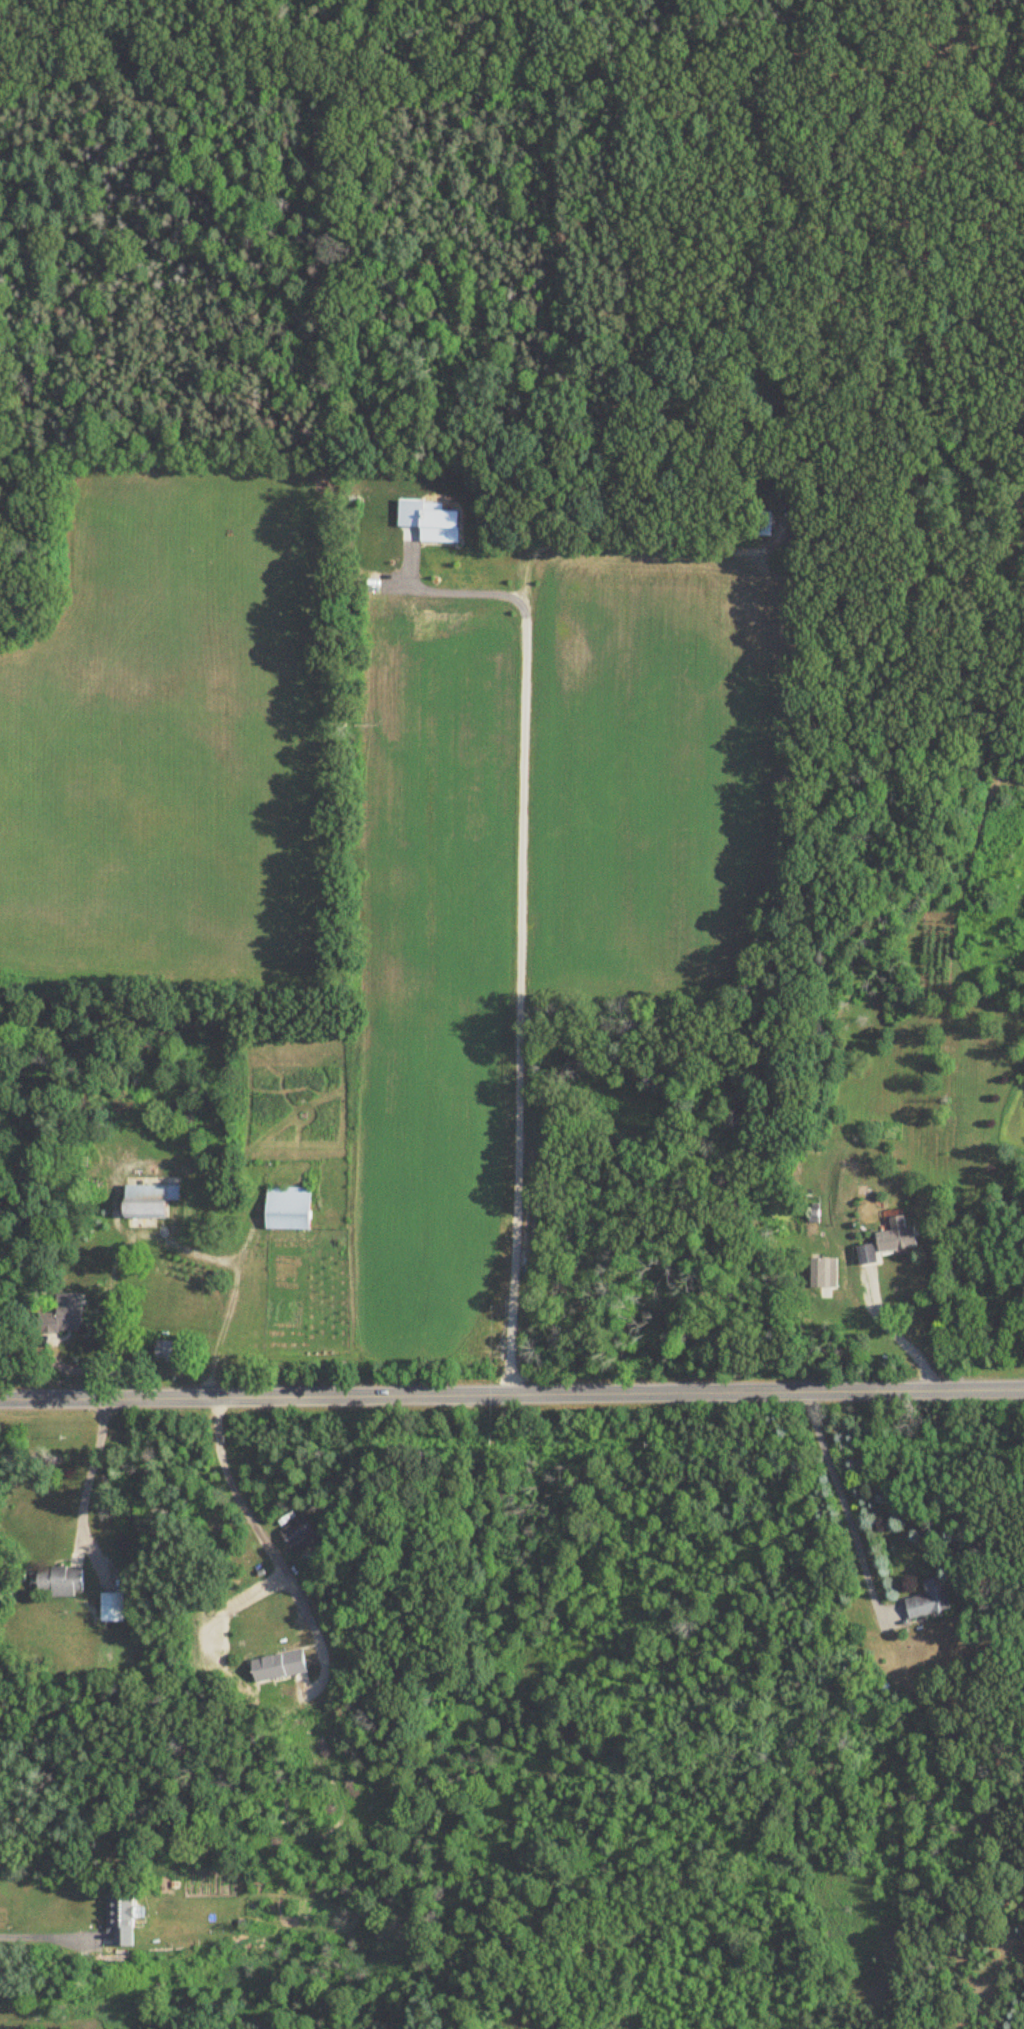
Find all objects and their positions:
road: (542, 25)
road: (535, 54)
road: (907, 64)
road: (525, 947)
building: (153, 1202)
building: (292, 1208)
building: (900, 1236)
road: (172, 1244)
building: (870, 1254)
building: (827, 1273)
building: (65, 1316)
road: (901, 1338)
building: (165, 1352)
road: (511, 1395)
road: (87, 1467)
road: (844, 1508)
road: (255, 1525)
building: (301, 1534)
building: (64, 1581)
building: (932, 1598)
building: (116, 1606)
building: (282, 1665)
building: (124, 1920)
road: (30, 1937)

